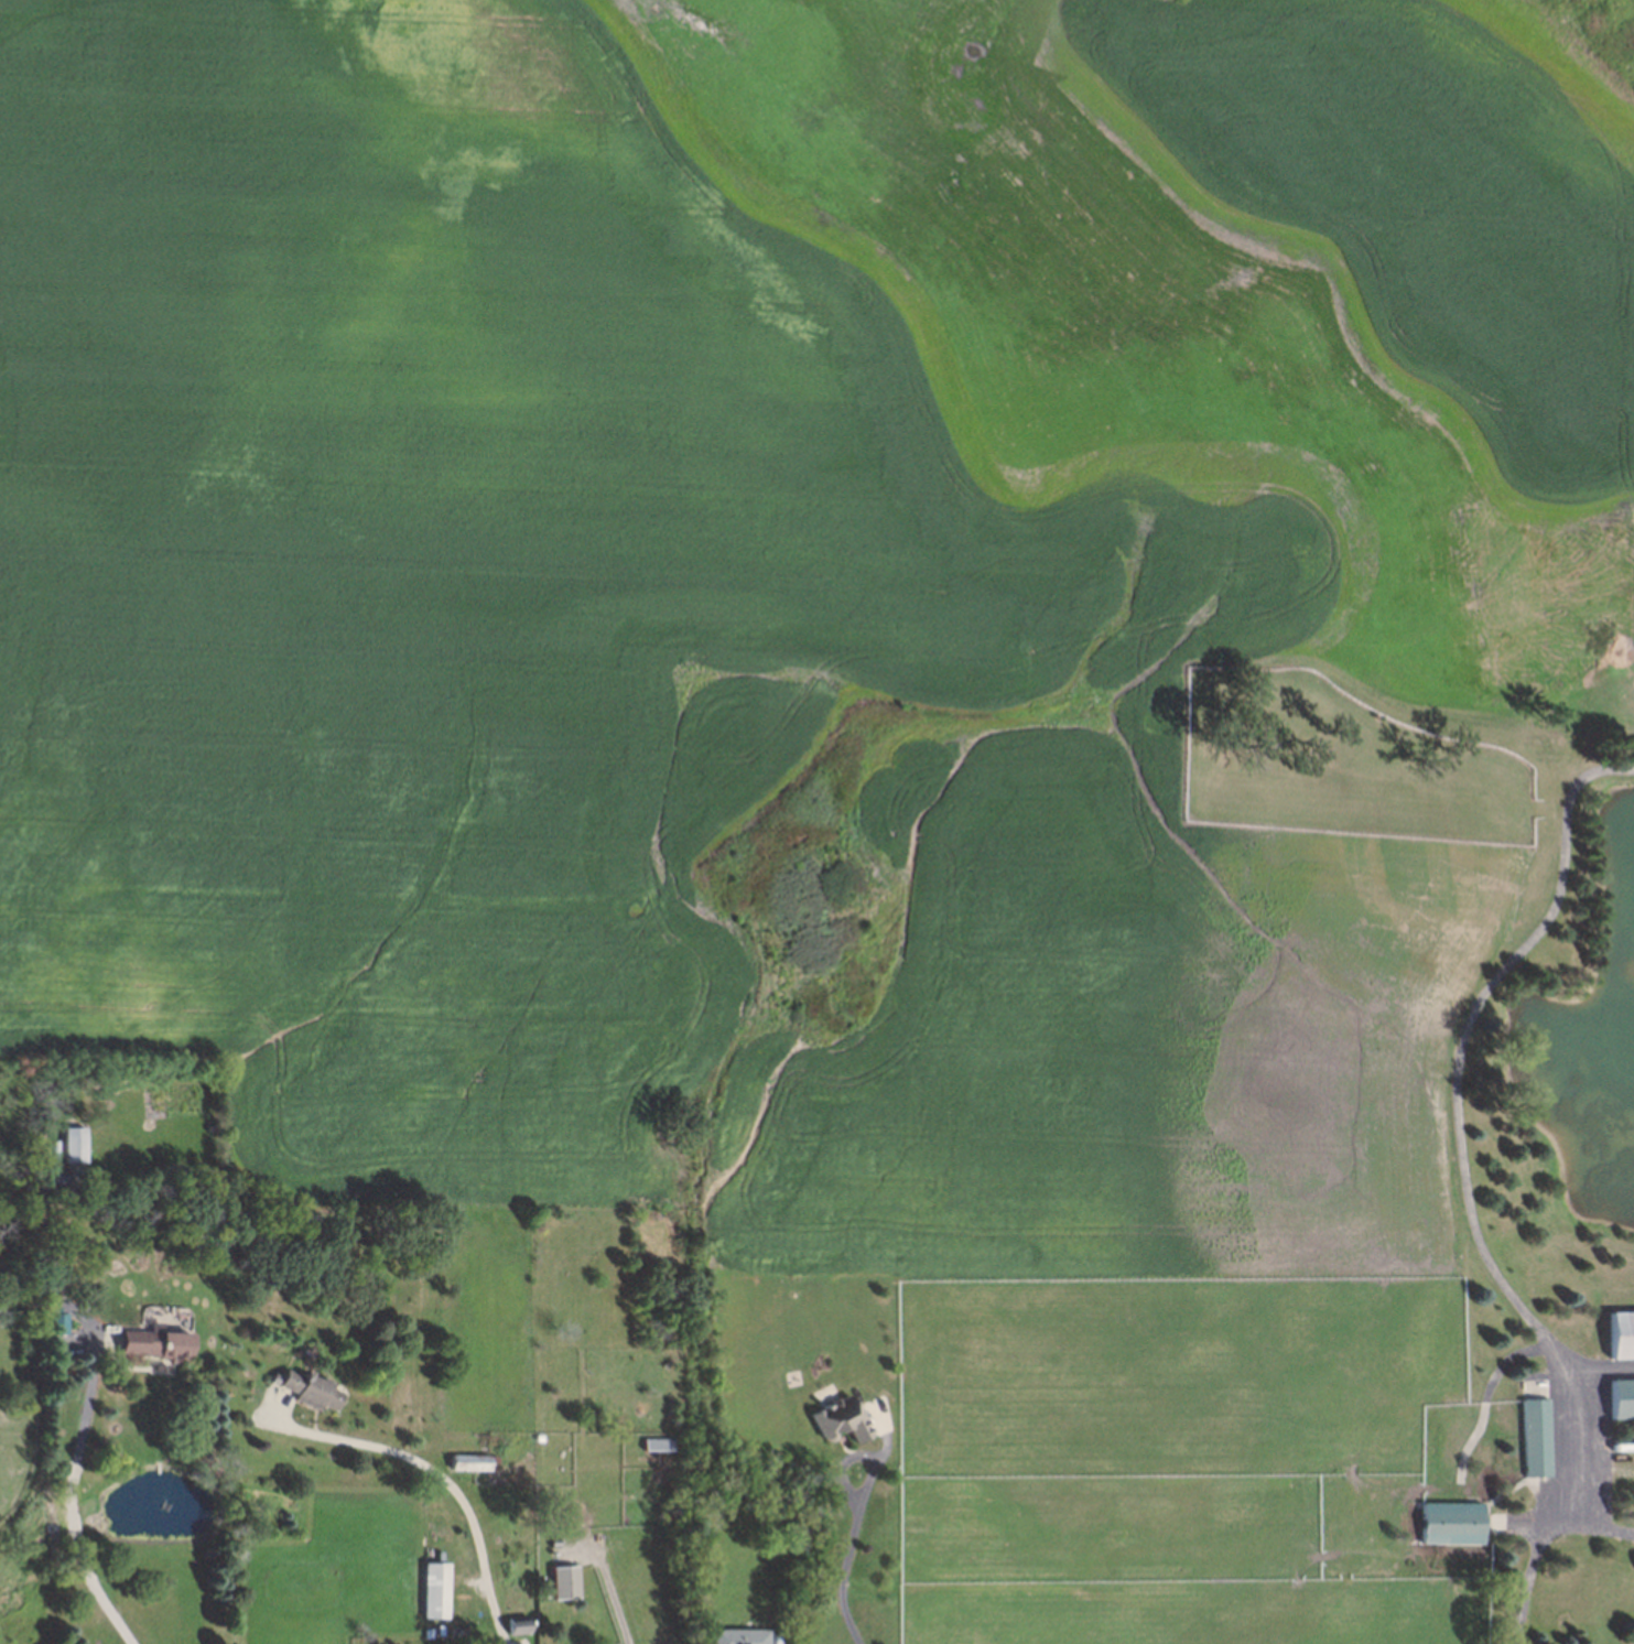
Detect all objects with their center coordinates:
building: (68, 1145)
building: (51, 1149)
road: (1467, 1187)
building: (55, 1320)
building: (1620, 1335)
building: (148, 1343)
building: (305, 1386)
building: (1621, 1399)
building: (835, 1418)
building: (1536, 1438)
building: (468, 1460)
road: (444, 1481)
road: (69, 1508)
building: (1454, 1523)
road: (1595, 1525)
road: (842, 1555)
building: (562, 1582)
building: (433, 1589)
road: (612, 1592)
building: (515, 1620)
building: (442, 1631)
building: (734, 1635)

